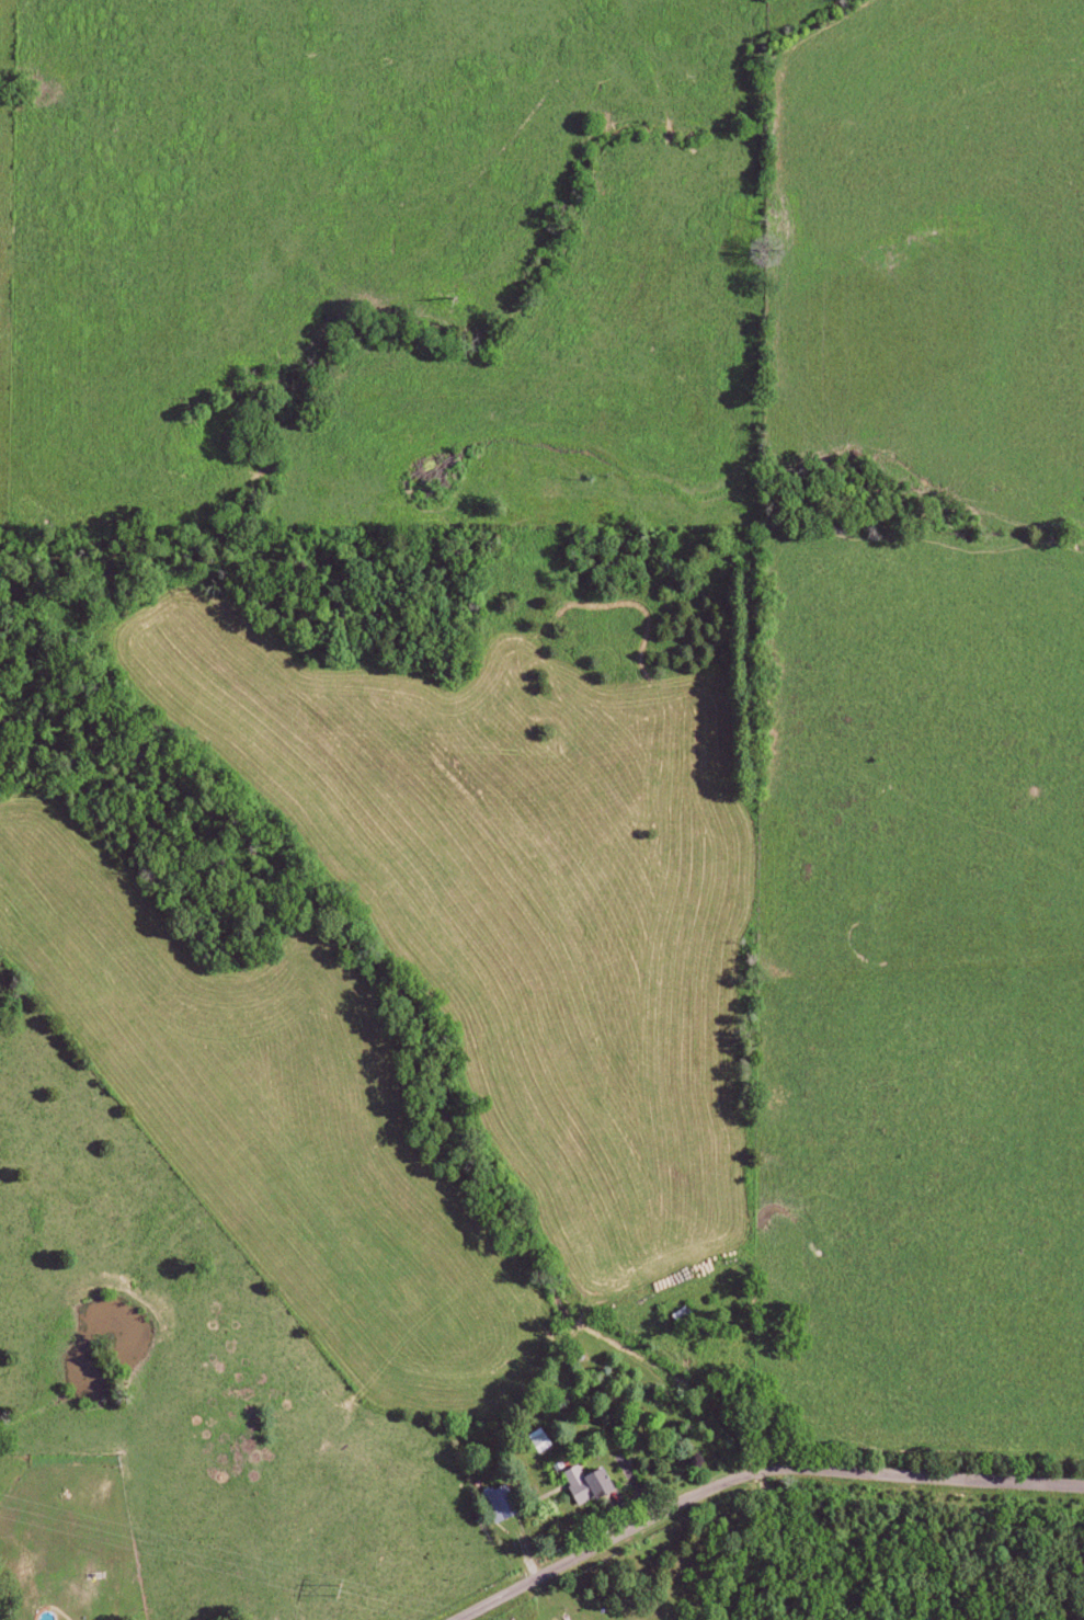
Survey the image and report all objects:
road: (756, 1470)
building: (592, 1483)
building: (504, 1502)
power tower: (338, 1593)

